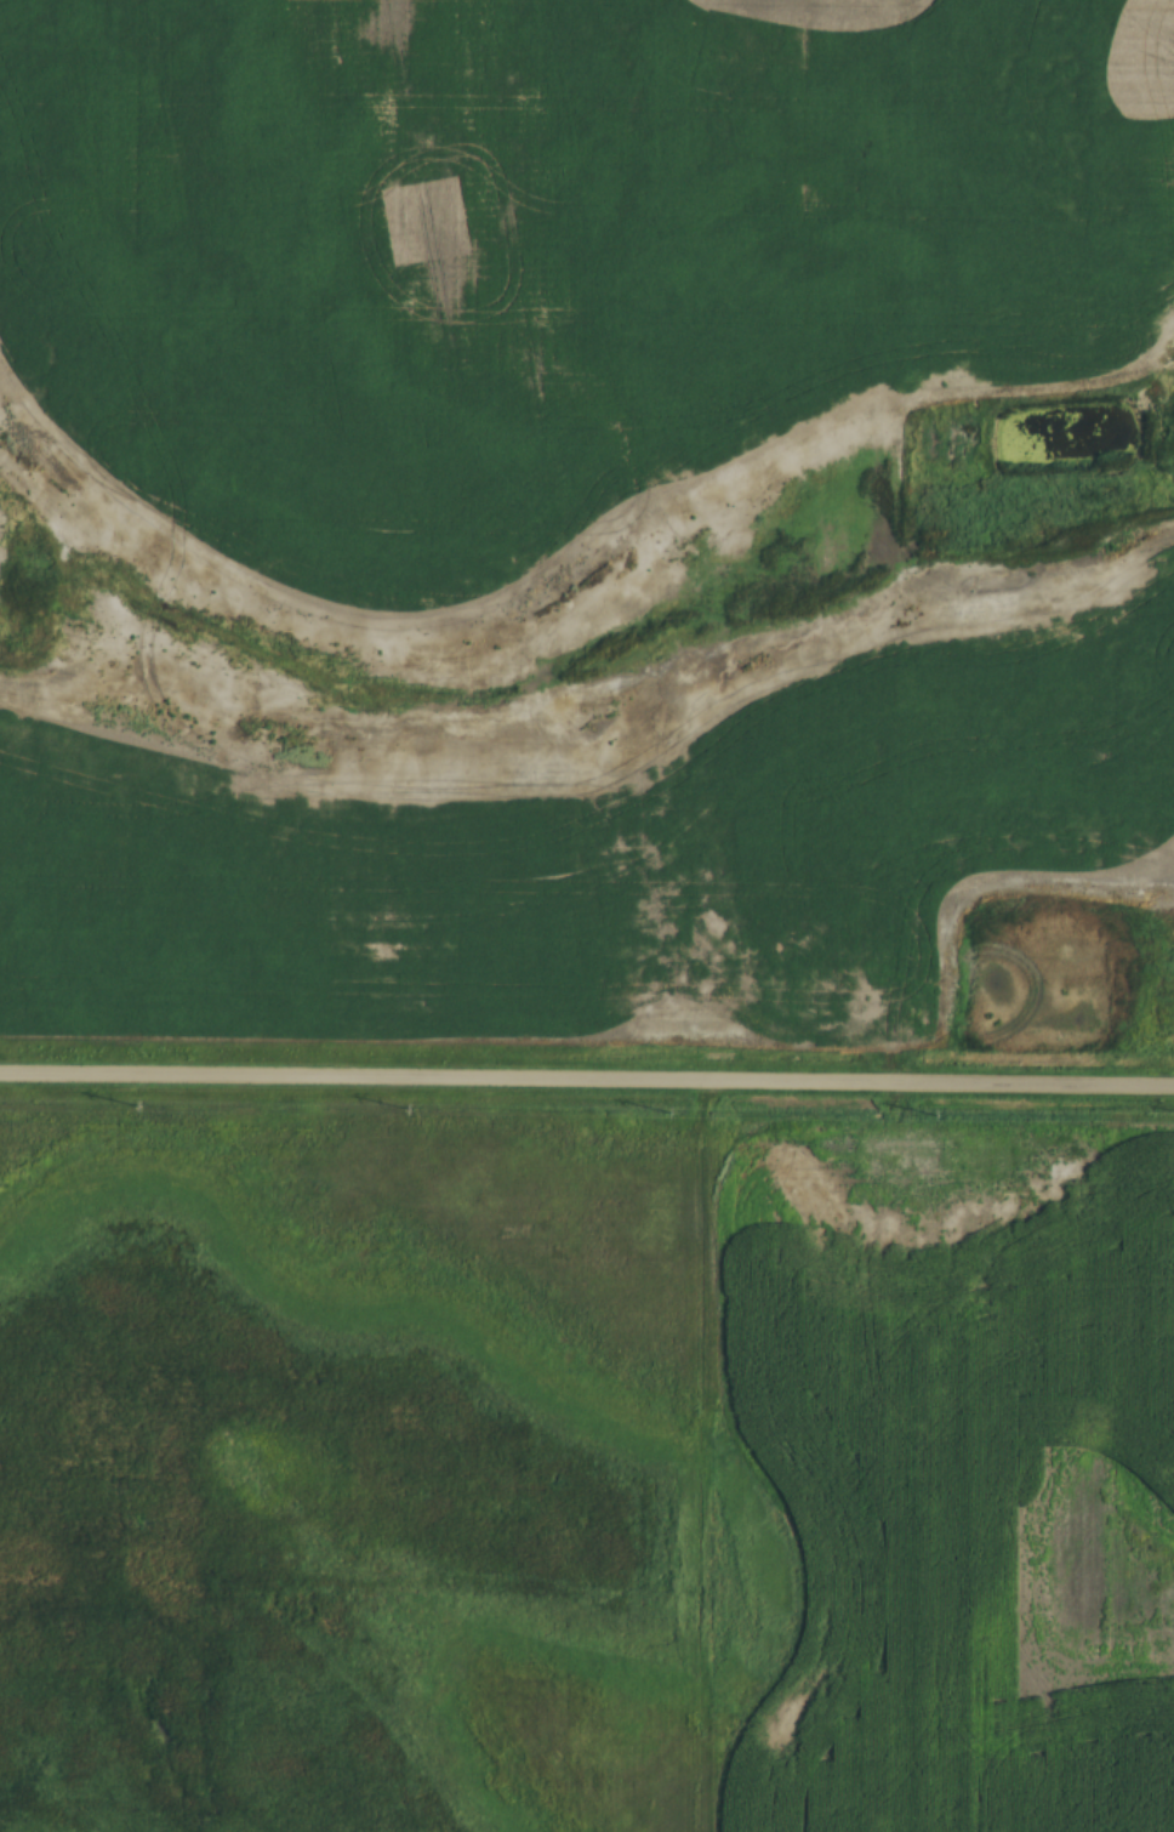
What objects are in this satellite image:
road: (587, 1080)

